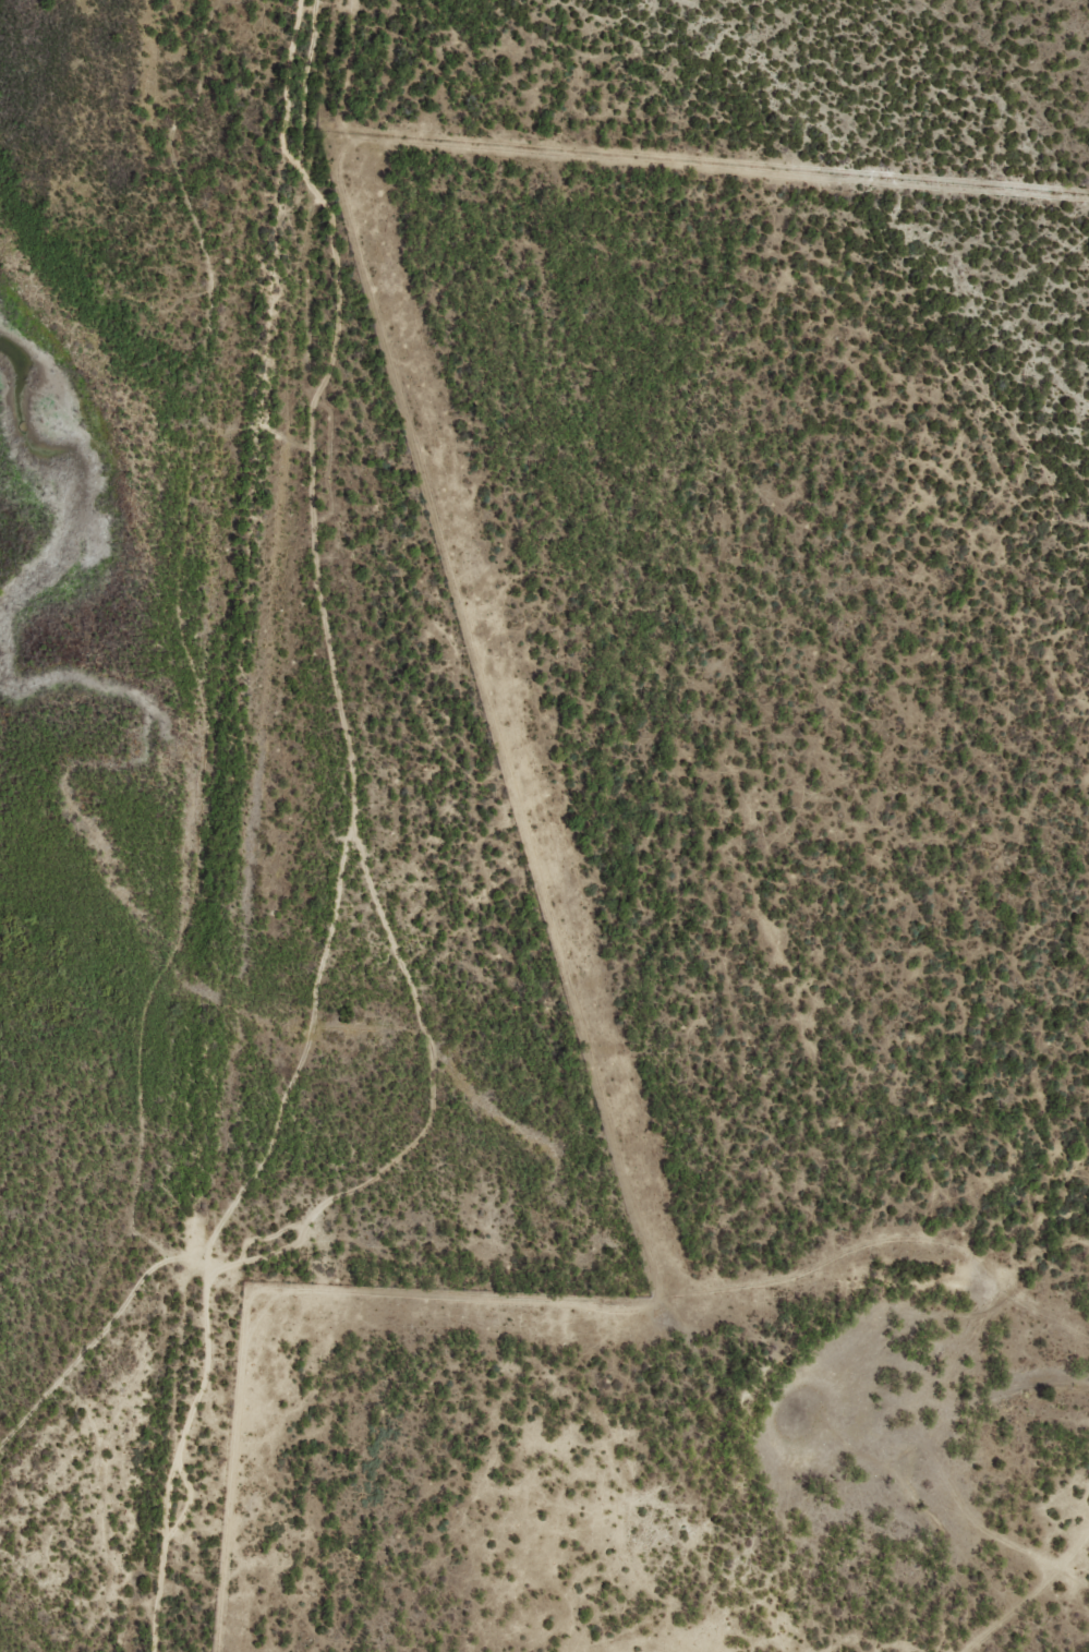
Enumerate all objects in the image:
road: (489, 720)
railway: (227, 825)
road: (1028, 1593)
road: (628, 1645)

